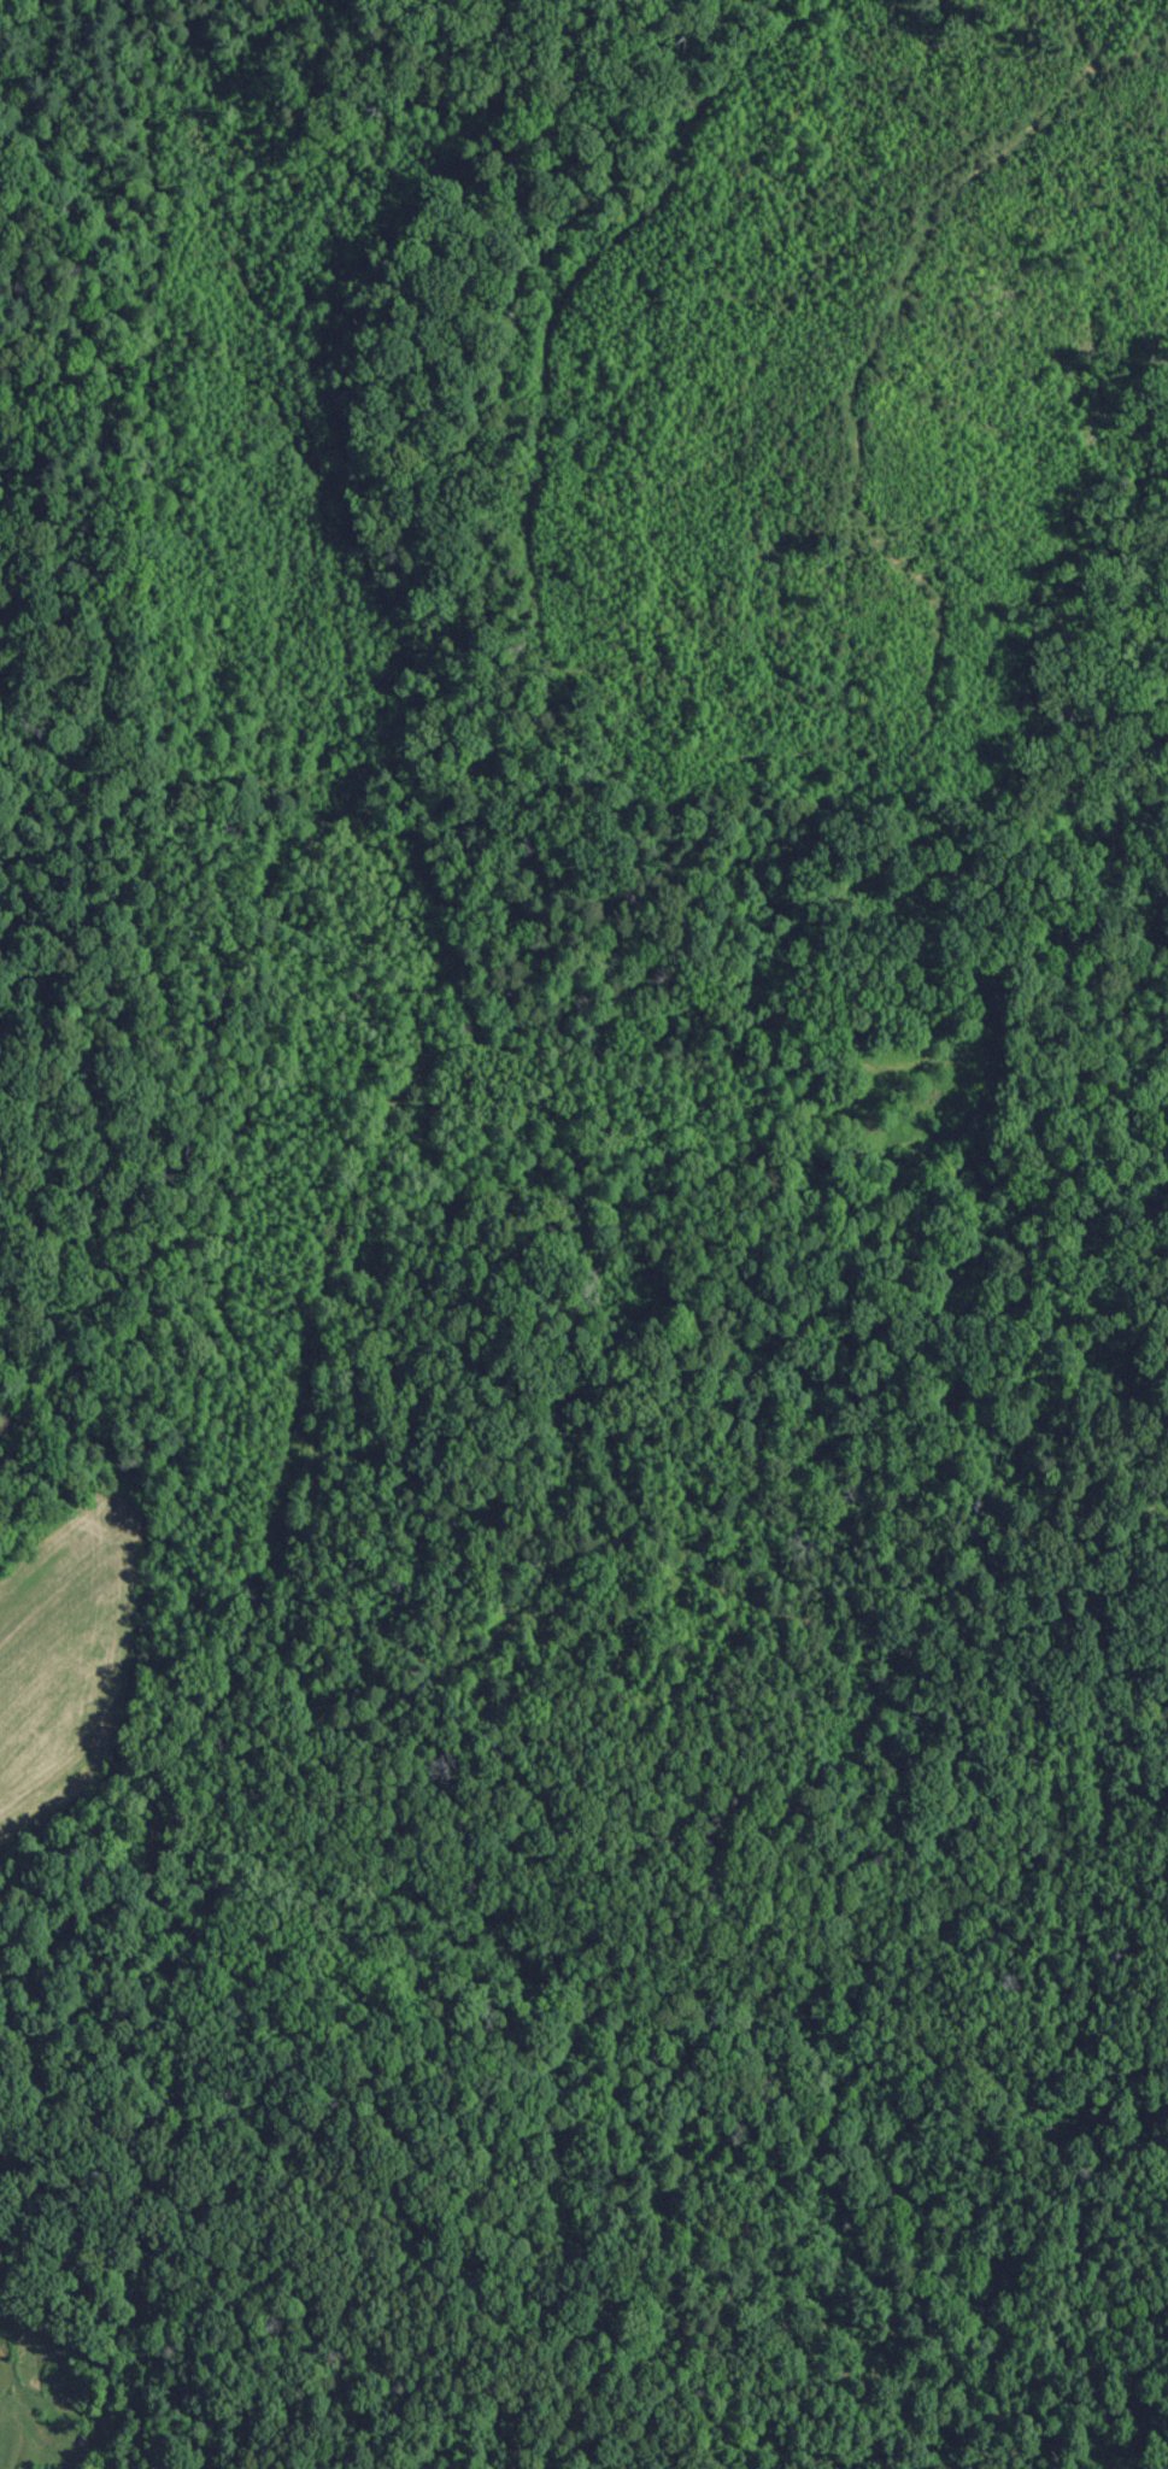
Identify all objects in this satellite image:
road: (25, 1920)

